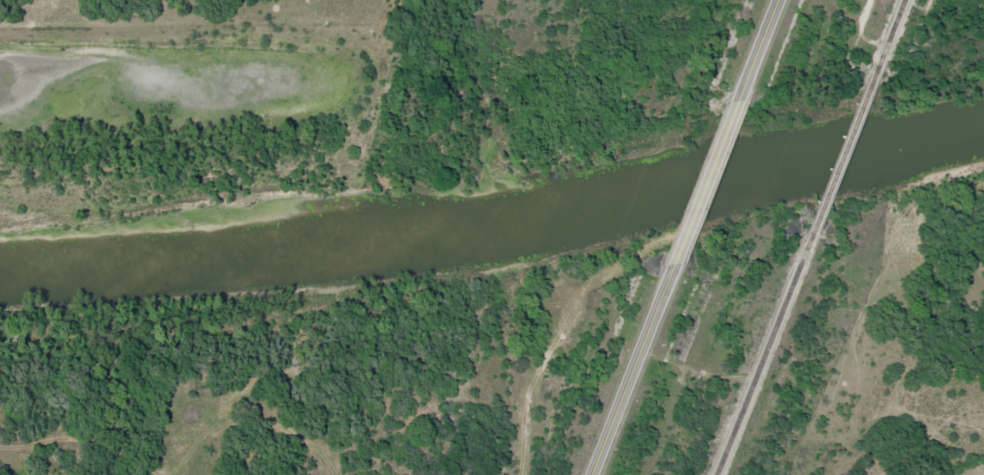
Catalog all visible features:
railway: (886, 30)
road: (258, 45)
road: (758, 50)
power plant: (889, 58)
railway: (840, 148)
road: (700, 188)
railway: (760, 356)
road: (631, 375)

